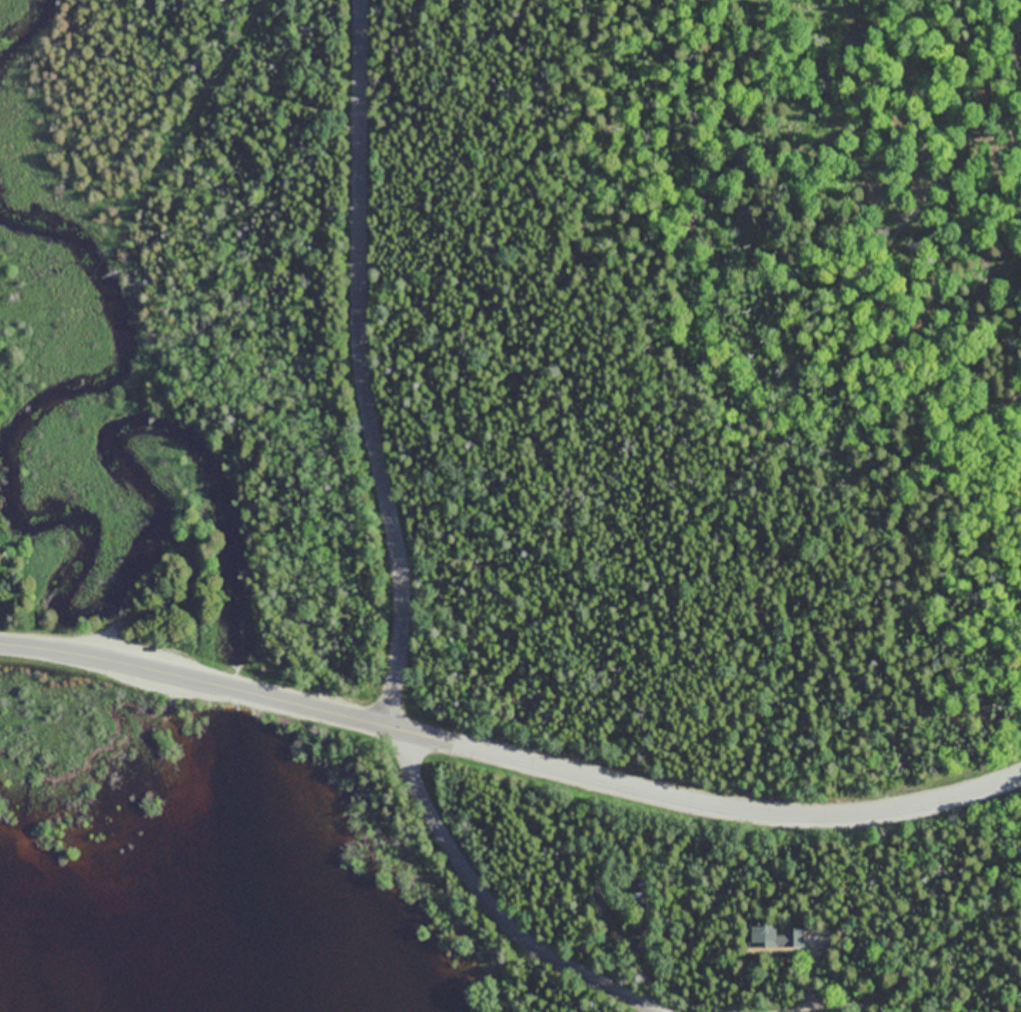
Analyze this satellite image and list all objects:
river: (31, 38)
road: (360, 366)
river: (62, 609)
parking lot: (147, 666)
river: (236, 688)
road: (510, 756)
river: (222, 871)
road: (492, 906)
building: (776, 935)
road: (915, 971)

